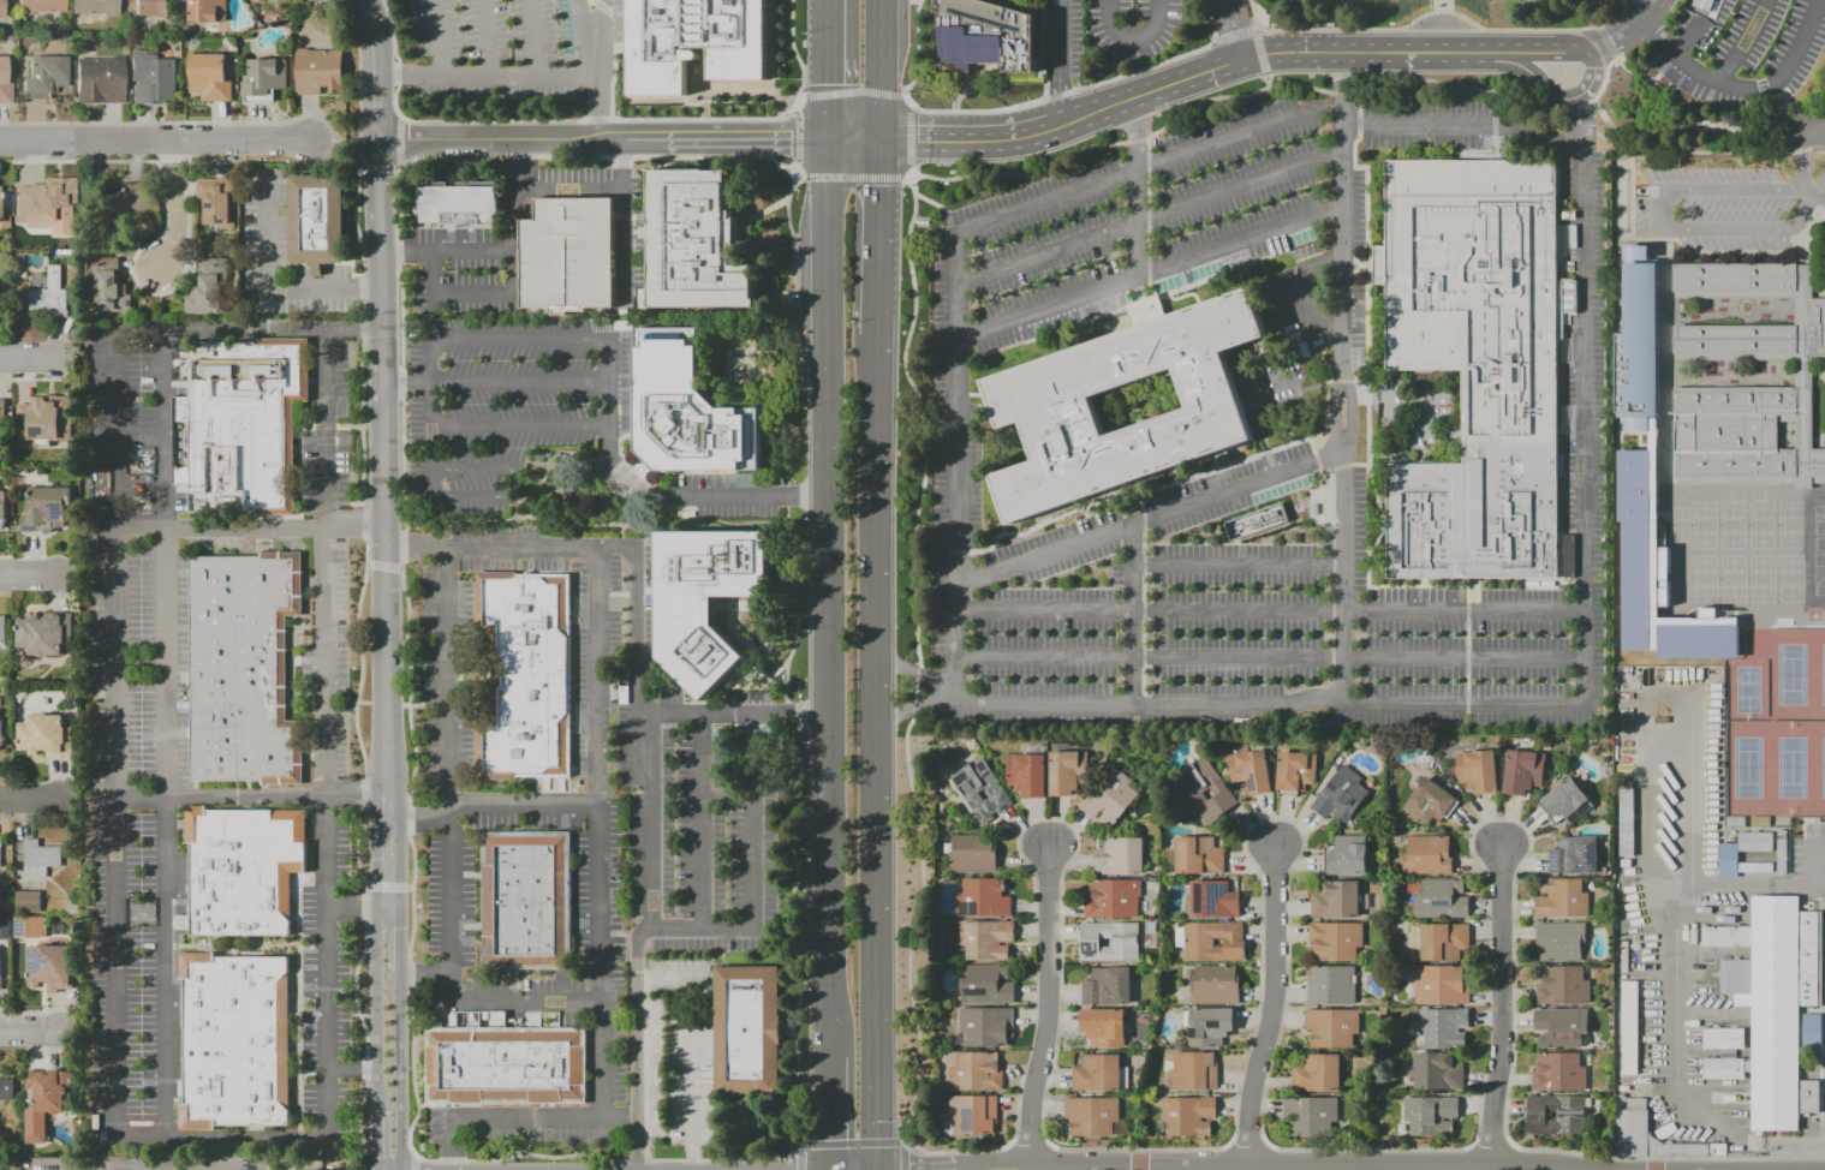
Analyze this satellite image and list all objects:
road: (916, 0)
road: (1624, 0)
building: (41, 5)
road: (879, 5)
road: (1442, 5)
building: (94, 7)
building: (151, 7)
building: (0, 8)
road: (1639, 8)
building: (208, 11)
road: (1447, 11)
road: (1253, 13)
road: (580, 14)
road: (1052, 19)
road: (1292, 22)
parking lot: (1137, 26)
road: (1256, 28)
road: (1233, 29)
road: (1627, 30)
road: (1699, 31)
road: (1233, 35)
road: (485, 36)
road: (532, 36)
building: (988, 36)
road: (1135, 38)
road: (1606, 40)
building: (693, 41)
road: (1745, 46)
parking lot: (503, 48)
road: (1143, 48)
parking lot: (1748, 49)
road: (1259, 50)
road: (1417, 52)
road: (1539, 52)
road: (914, 53)
road: (795, 55)
road: (1052, 55)
road: (1674, 59)
road: (1061, 60)
road: (1147, 62)
road: (380, 68)
road: (1114, 68)
road: (590, 70)
road: (825, 70)
road: (1789, 70)
building: (318, 71)
road: (1664, 71)
road: (1198, 73)
building: (43, 74)
road: (477, 74)
road: (878, 74)
building: (210, 77)
building: (153, 78)
building: (100, 79)
building: (264, 79)
road: (1268, 82)
road: (1678, 83)
building: (4, 84)
road: (1501, 86)
road: (967, 88)
road: (1043, 90)
road: (1664, 90)
road: (852, 91)
road: (1068, 91)
road: (903, 94)
road: (1341, 95)
road: (1553, 95)
road: (801, 96)
road: (1234, 97)
road: (1492, 100)
road: (1358, 102)
road: (909, 106)
road: (795, 109)
road: (1782, 112)
road: (1581, 117)
road: (1358, 124)
road: (1493, 124)
road: (1341, 127)
road: (1755, 130)
road: (1640, 132)
road: (1811, 135)
road: (797, 137)
road: (908, 137)
road: (970, 137)
road: (156, 138)
road: (1239, 138)
road: (523, 139)
road: (745, 139)
traffic signals: (825, 139)
road: (852, 139)
road: (1134, 139)
traffic signals: (879, 141)
road: (346, 145)
road: (1495, 149)
road: (1692, 150)
road: (1814, 151)
road: (622, 162)
road: (793, 168)
road: (1802, 173)
road: (1015, 175)
road: (799, 178)
road: (853, 178)
road: (173, 181)
road: (568, 187)
road: (1137, 189)
building: (54, 199)
building: (217, 201)
road: (929, 201)
building: (459, 203)
parking lot: (1726, 207)
road: (758, 214)
building: (317, 220)
road: (996, 220)
road: (1147, 221)
road: (1663, 221)
road: (948, 222)
building: (71, 226)
road: (175, 228)
road: (622, 235)
road: (877, 237)
building: (694, 241)
building: (72, 243)
building: (19, 244)
road: (502, 249)
building: (1634, 251)
building: (66, 252)
road: (1766, 252)
building: (566, 255)
parking lot: (566, 255)
building: (2, 257)
road: (267, 274)
road: (1149, 275)
building: (107, 283)
building: (0, 287)
building: (208, 287)
road: (365, 289)
road: (773, 292)
road: (1341, 292)
road: (470, 293)
flagpole: (1186, 293)
building: (50, 294)
flagpole: (1176, 296)
flagpole: (1168, 299)
building: (0, 309)
road: (1304, 309)
road: (787, 327)
road: (250, 329)
road: (519, 340)
building: (1639, 344)
road: (7, 353)
road: (37, 353)
road: (1366, 358)
road: (430, 360)
building: (1480, 363)
road: (1795, 366)
building: (1802, 372)
road: (519, 381)
road: (407, 382)
building: (1042, 404)
building: (688, 410)
road: (1334, 413)
road: (1350, 413)
building: (41, 414)
road: (918, 416)
parking lot: (536, 417)
building: (4, 418)
parking lot: (954, 419)
building: (245, 424)
road: (519, 426)
road: (431, 438)
road: (386, 477)
road: (511, 477)
building: (0, 485)
road: (652, 491)
park: (1746, 493)
road: (787, 496)
building: (46, 509)
building: (1316, 509)
building: (4, 511)
road: (1146, 518)
park: (1819, 519)
building: (1256, 521)
park: (1730, 524)
park: (1760, 524)
park: (1790, 524)
park: (1678, 525)
park: (1702, 525)
road: (251, 527)
building: (1635, 549)
road: (1237, 565)
park: (1819, 566)
road: (1340, 575)
road: (23, 578)
road: (54, 578)
park: (1704, 578)
park: (1731, 578)
park: (1760, 578)
park: (1790, 578)
road: (827, 596)
building: (704, 599)
road: (795, 604)
road: (1269, 609)
road: (1134, 614)
park: (1814, 615)
road: (765, 625)
building: (2, 629)
building: (43, 633)
road: (732, 634)
building: (1695, 639)
road: (1269, 657)
building: (243, 668)
road: (913, 670)
park: (1790, 670)
road: (918, 673)
building: (525, 674)
road: (726, 682)
road: (916, 688)
park: (1745, 690)
road: (1492, 704)
road: (914, 706)
road: (912, 709)
road: (732, 712)
road: (786, 715)
road: (163, 733)
building: (2, 735)
building: (46, 735)
road: (640, 736)
road: (873, 752)
road: (757, 759)
park: (1773, 768)
building: (1295, 769)
building: (1066, 770)
building: (1250, 770)
building: (1477, 770)
building: (1522, 770)
building: (1025, 774)
building: (968, 789)
building: (1193, 789)
building: (1337, 792)
building: (1108, 794)
road: (252, 796)
building: (1565, 799)
building: (1429, 800)
road: (26, 804)
road: (527, 805)
road: (418, 817)
road: (700, 819)
building: (1629, 824)
building: (1755, 841)
building: (0, 842)
road: (447, 844)
building: (1425, 853)
building: (1782, 853)
building: (972, 854)
building: (1347, 854)
building: (1574, 854)
building: (1198, 855)
building: (1120, 856)
building: (40, 858)
road: (399, 859)
building: (1726, 859)
building: (0, 862)
building: (1755, 866)
building: (243, 868)
road: (1687, 881)
road: (753, 887)
building: (1561, 896)
building: (982, 897)
building: (1111, 897)
building: (1335, 897)
building: (1441, 897)
building: (1212, 899)
building: (525, 900)
building: (26, 901)
road: (362, 905)
building: (71, 908)
building: (29, 926)
building: (5, 927)
road: (912, 927)
road: (597, 931)
road: (798, 937)
road: (398, 938)
building: (1559, 938)
building: (985, 939)
building: (1335, 939)
building: (1442, 939)
building: (1210, 941)
building: (1125, 942)
road: (375, 961)
building: (50, 966)
road: (422, 973)
building: (0, 977)
building: (1215, 984)
building: (1330, 984)
building: (1442, 984)
building: (1561, 984)
building: (985, 985)
building: (1107, 986)
building: (1769, 1004)
road: (1501, 1008)
road: (1271, 1009)
road: (1045, 1010)
parking lot: (1824, 1013)
building: (1209, 1025)
building: (1559, 1025)
building: (985, 1026)
building: (1331, 1026)
building: (1443, 1026)
building: (1628, 1026)
building: (1103, 1027)
building: (747, 1029)
building: (1808, 1029)
road: (28, 1033)
building: (1722, 1039)
building: (233, 1040)
building: (1726, 1053)
building: (503, 1062)
road: (351, 1068)
road: (1820, 1068)
road: (398, 1070)
building: (1192, 1070)
building: (1436, 1070)
building: (1557, 1070)
building: (974, 1071)
building: (1317, 1071)
building: (1099, 1074)
road: (1680, 1079)
road: (693, 1084)
building: (7, 1088)
road: (1823, 1096)
building: (46, 1099)
road: (829, 1112)
building: (1310, 1114)
building: (1430, 1114)
building: (1570, 1114)
building: (970, 1115)
building: (1187, 1115)
building: (1091, 1116)
road: (1819, 1134)
road: (219, 1135)
road: (377, 1140)
building: (1656, 1140)
road: (852, 1144)
road: (1490, 1148)
road: (694, 1156)
road: (902, 1156)
road: (1666, 1158)
road: (797, 1162)
building: (7, 1169)
building: (335, 1169)

